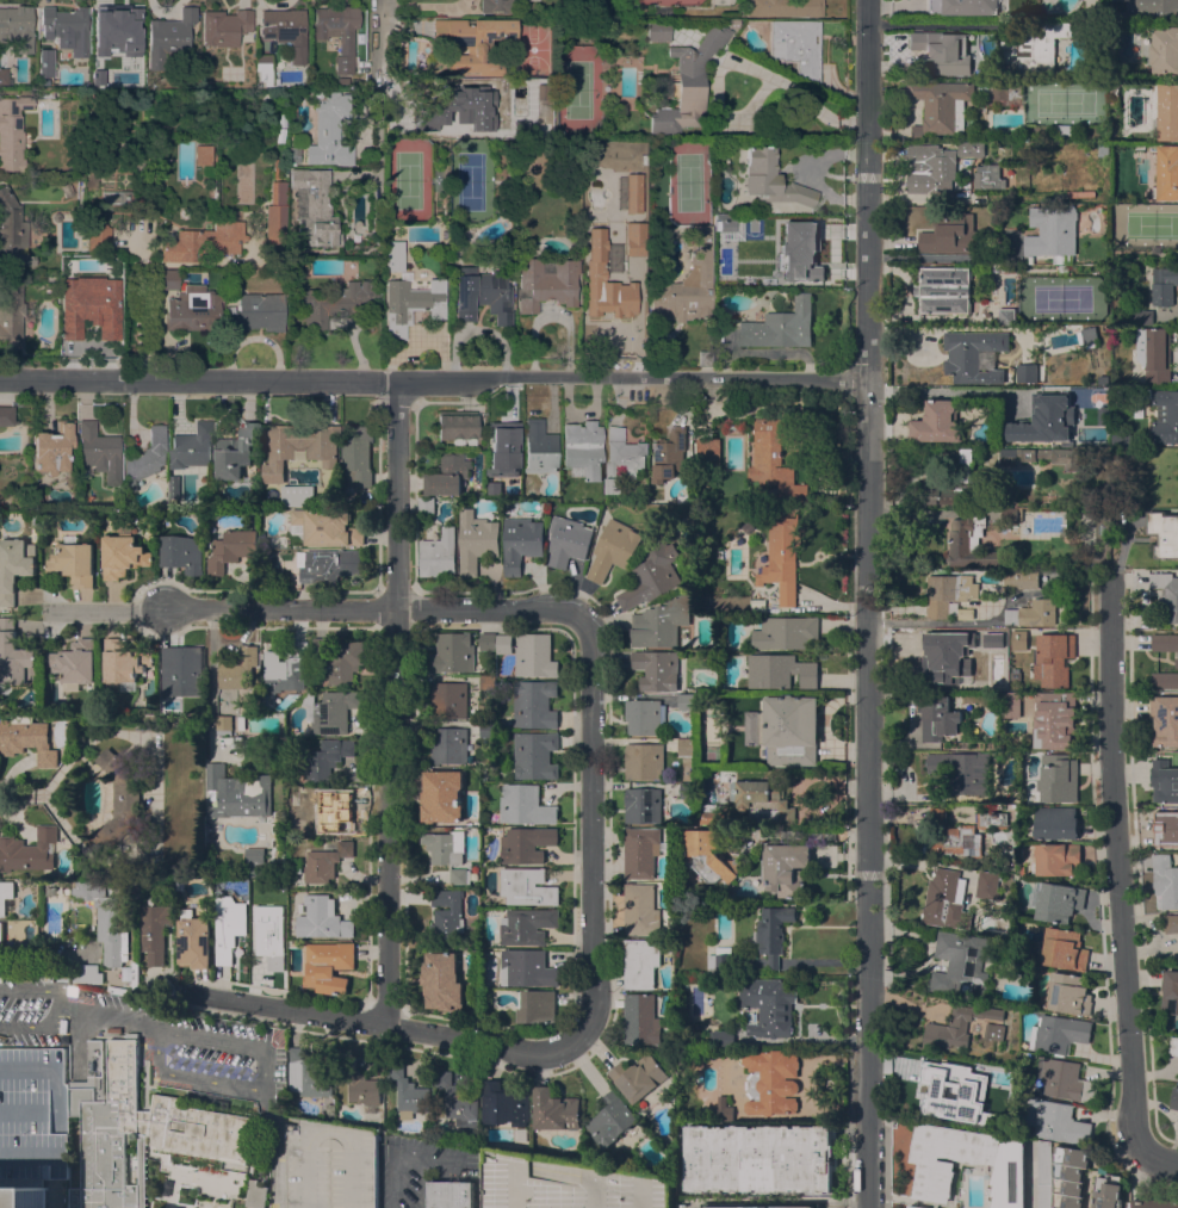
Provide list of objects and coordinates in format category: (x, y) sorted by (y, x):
building: (529, 0)
building: (666, 1)
building: (496, 6)
building: (961, 7)
building: (1151, 7)
building: (783, 8)
building: (733, 24)
road: (935, 24)
building: (17, 27)
building: (66, 27)
building: (224, 27)
building: (114, 29)
building: (657, 30)
building: (285, 31)
building: (337, 32)
building: (168, 37)
road: (376, 41)
building: (473, 44)
building: (1035, 45)
building: (795, 47)
building: (1164, 51)
building: (947, 55)
building: (45, 63)
road: (738, 64)
building: (263, 68)
building: (135, 75)
building: (5, 78)
building: (343, 80)
building: (686, 87)
building: (1000, 89)
building: (46, 93)
building: (940, 106)
building: (466, 107)
building: (1167, 111)
building: (420, 122)
building: (1065, 129)
building: (328, 130)
building: (12, 132)
building: (293, 155)
building: (204, 160)
building: (655, 166)
building: (936, 166)
building: (1167, 173)
building: (987, 176)
building: (770, 179)
building: (631, 193)
building: (113, 198)
building: (314, 207)
building: (56, 217)
building: (129, 218)
building: (277, 223)
building: (724, 227)
building: (12, 230)
building: (98, 234)
building: (951, 234)
building: (1053, 234)
building: (80, 240)
building: (204, 241)
building: (594, 244)
building: (631, 247)
building: (786, 249)
building: (1157, 249)
building: (393, 256)
road: (950, 258)
building: (1062, 268)
building: (169, 280)
building: (546, 283)
building: (687, 283)
building: (1164, 285)
building: (943, 290)
building: (482, 296)
building: (610, 298)
building: (333, 302)
building: (410, 305)
building: (88, 308)
road: (138, 311)
building: (192, 311)
building: (255, 314)
building: (1007, 316)
building: (11, 317)
building: (1142, 317)
building: (780, 326)
building: (1087, 335)
road: (254, 336)
building: (1154, 354)
building: (974, 355)
building: (1027, 372)
road: (433, 380)
road: (943, 391)
building: (1162, 414)
building: (6, 416)
building: (936, 422)
building: (1044, 422)
building: (455, 427)
building: (734, 428)
building: (1121, 440)
building: (192, 447)
building: (539, 447)
building: (52, 448)
building: (299, 448)
building: (503, 450)
building: (583, 450)
building: (99, 452)
building: (708, 452)
building: (669, 454)
building: (236, 456)
building: (355, 457)
building: (775, 457)
building: (1038, 457)
building: (145, 459)
building: (621, 459)
building: (447, 475)
building: (969, 479)
building: (174, 487)
building: (297, 496)
building: (333, 500)
building: (426, 506)
building: (1012, 515)
building: (33, 520)
building: (327, 527)
building: (1164, 533)
building: (476, 540)
building: (568, 540)
building: (521, 543)
building: (971, 544)
building: (231, 549)
building: (613, 550)
building: (182, 553)
building: (438, 553)
building: (123, 556)
building: (782, 559)
building: (74, 562)
building: (328, 565)
building: (14, 566)
building: (651, 576)
building: (1021, 578)
building: (949, 595)
building: (1166, 595)
road: (868, 603)
building: (705, 605)
road: (386, 613)
building: (1033, 613)
road: (150, 614)
road: (80, 615)
building: (661, 622)
road: (943, 622)
building: (785, 632)
building: (1019, 639)
building: (488, 642)
building: (1165, 642)
building: (504, 644)
building: (994, 644)
building: (322, 646)
building: (453, 652)
building: (534, 656)
building: (14, 658)
building: (1054, 658)
building: (948, 661)
building: (123, 662)
building: (348, 662)
building: (1177, 663)
building: (74, 664)
building: (238, 669)
building: (656, 669)
building: (181, 671)
building: (289, 671)
building: (780, 671)
building: (1015, 674)
building: (1165, 680)
building: (488, 682)
building: (449, 700)
building: (687, 701)
road: (401, 704)
building: (534, 704)
building: (1011, 704)
building: (330, 711)
building: (643, 717)
building: (938, 718)
building: (1055, 719)
building: (1165, 720)
building: (241, 721)
building: (223, 724)
building: (786, 729)
building: (488, 730)
building: (27, 741)
building: (449, 747)
building: (687, 747)
building: (535, 755)
building: (325, 758)
building: (644, 761)
building: (965, 770)
building: (1058, 778)
building: (1164, 781)
building: (687, 789)
building: (238, 793)
building: (1015, 794)
building: (442, 795)
road: (6, 797)
building: (119, 798)
building: (762, 800)
building: (526, 805)
building: (644, 805)
building: (994, 805)
building: (316, 810)
building: (711, 813)
building: (990, 818)
building: (1055, 822)
building: (1166, 826)
road: (596, 834)
building: (954, 837)
building: (527, 843)
building: (445, 845)
building: (29, 849)
building: (641, 850)
building: (708, 855)
building: (1058, 859)
road: (1120, 859)
building: (325, 861)
building: (256, 862)
building: (296, 863)
building: (993, 865)
building: (1006, 865)
building: (786, 868)
building: (460, 875)
building: (1165, 881)
building: (987, 885)
building: (527, 886)
building: (5, 893)
building: (944, 899)
building: (1058, 902)
building: (641, 909)
building: (325, 915)
building: (446, 918)
building: (1171, 923)
building: (527, 925)
building: (230, 927)
building: (111, 928)
building: (154, 931)
building: (271, 933)
building: (773, 933)
building: (5, 937)
building: (194, 942)
building: (1065, 949)
building: (719, 959)
building: (640, 962)
building: (963, 962)
building: (997, 965)
building: (328, 966)
building: (527, 967)
building: (87, 973)
building: (442, 981)
road: (32, 989)
building: (1170, 991)
building: (1069, 993)
building: (537, 1005)
building: (768, 1005)
road: (111, 1016)
building: (640, 1018)
road: (35, 1024)
road: (380, 1024)
building: (956, 1026)
building: (994, 1030)
building: (1059, 1034)
building: (721, 1037)
road: (801, 1039)
road: (229, 1041)
building: (1173, 1046)
building: (312, 1073)
road: (193, 1076)
building: (638, 1077)
building: (771, 1080)
building: (1067, 1080)
building: (365, 1090)
building: (408, 1092)
building: (948, 1092)
building: (1174, 1098)
building: (459, 1102)
building: (506, 1104)
building: (554, 1109)
building: (721, 1110)
building: (612, 1119)
building: (1061, 1122)
building: (138, 1128)
road: (275, 1146)
road: (405, 1152)
road: (1159, 1157)
building: (759, 1158)
building: (934, 1164)
building: (330, 1165)
building: (1102, 1170)
building: (1042, 1173)
building: (1069, 1176)
building: (228, 1183)
building: (566, 1184)
building: (1108, 1191)
building: (452, 1194)
building: (256, 1195)
building: (23, 1196)
building: (1153, 1203)
building: (914, 1206)
building: (758, 1207)

